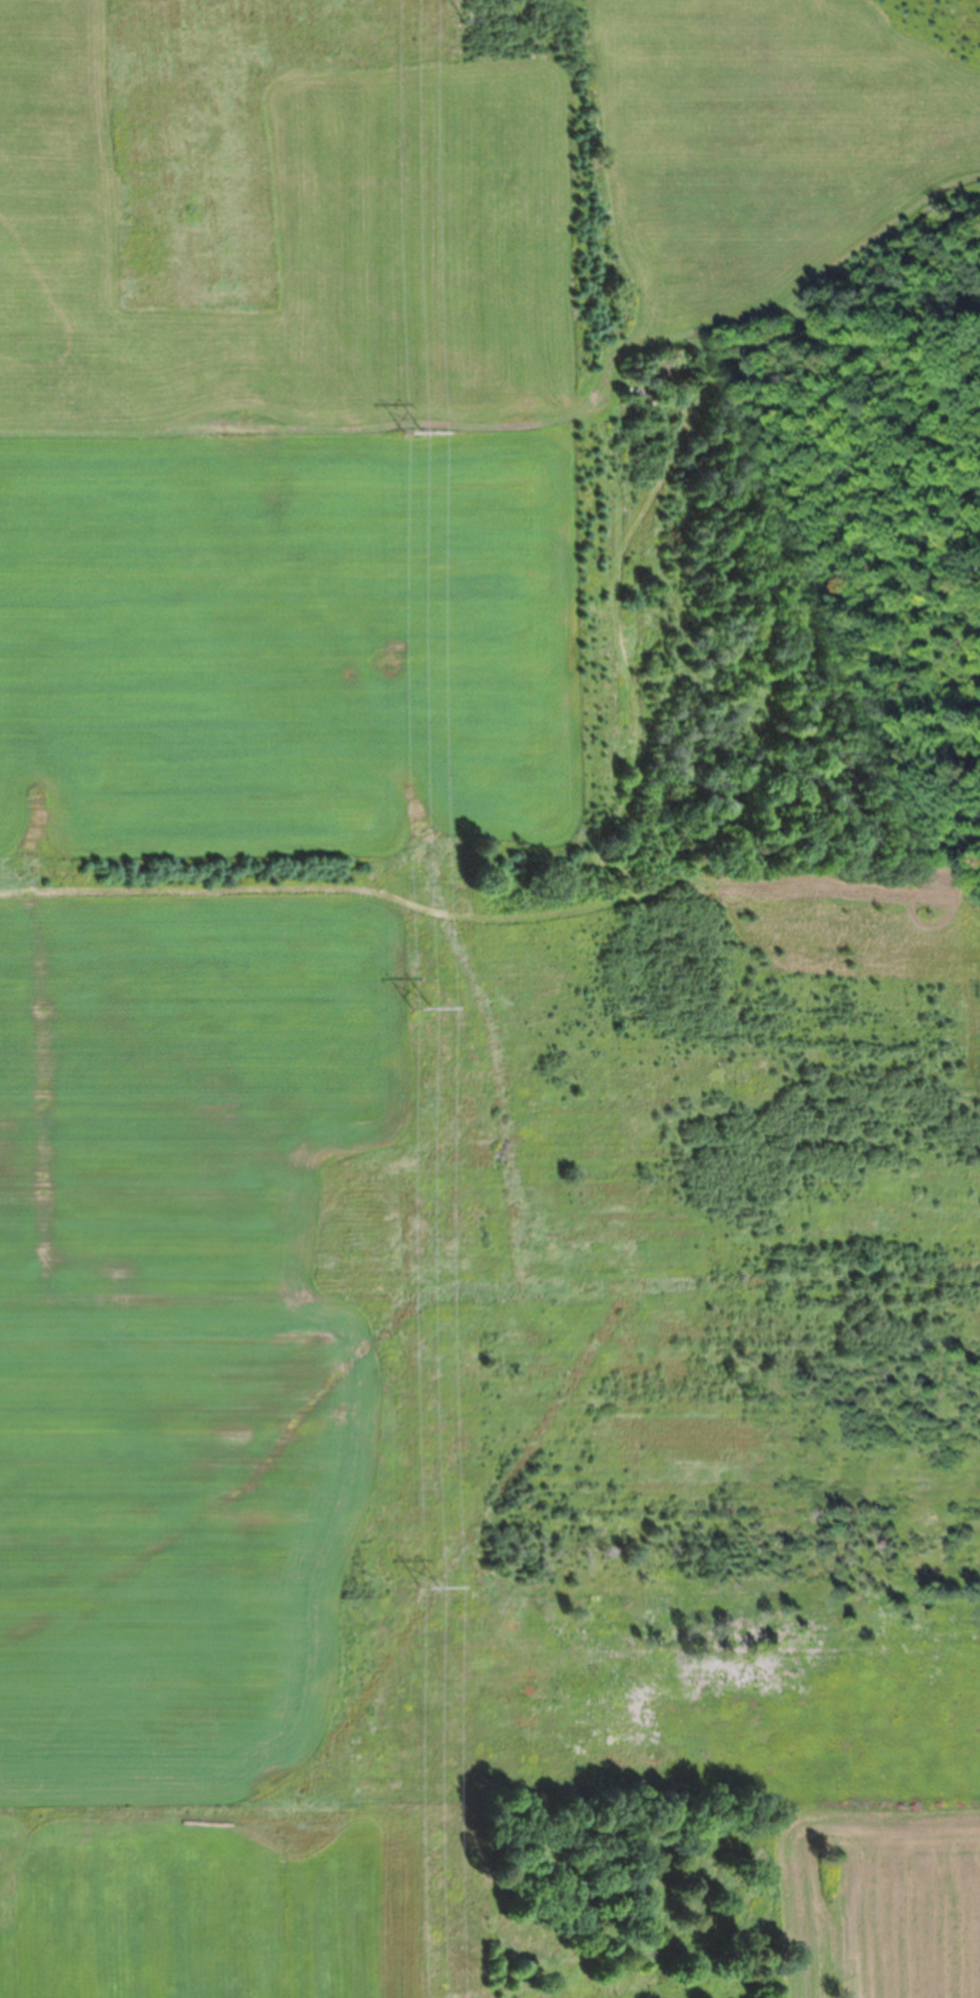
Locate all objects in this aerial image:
power tower: (411, 428)
power tower: (418, 1009)
power tower: (427, 1590)

